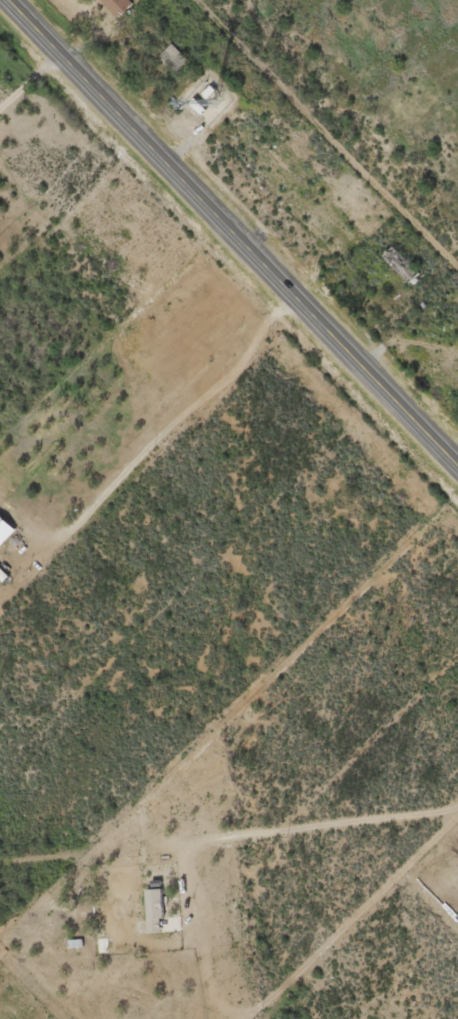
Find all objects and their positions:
building: (118, 4)
road: (233, 232)
road: (227, 824)
building: (154, 899)

